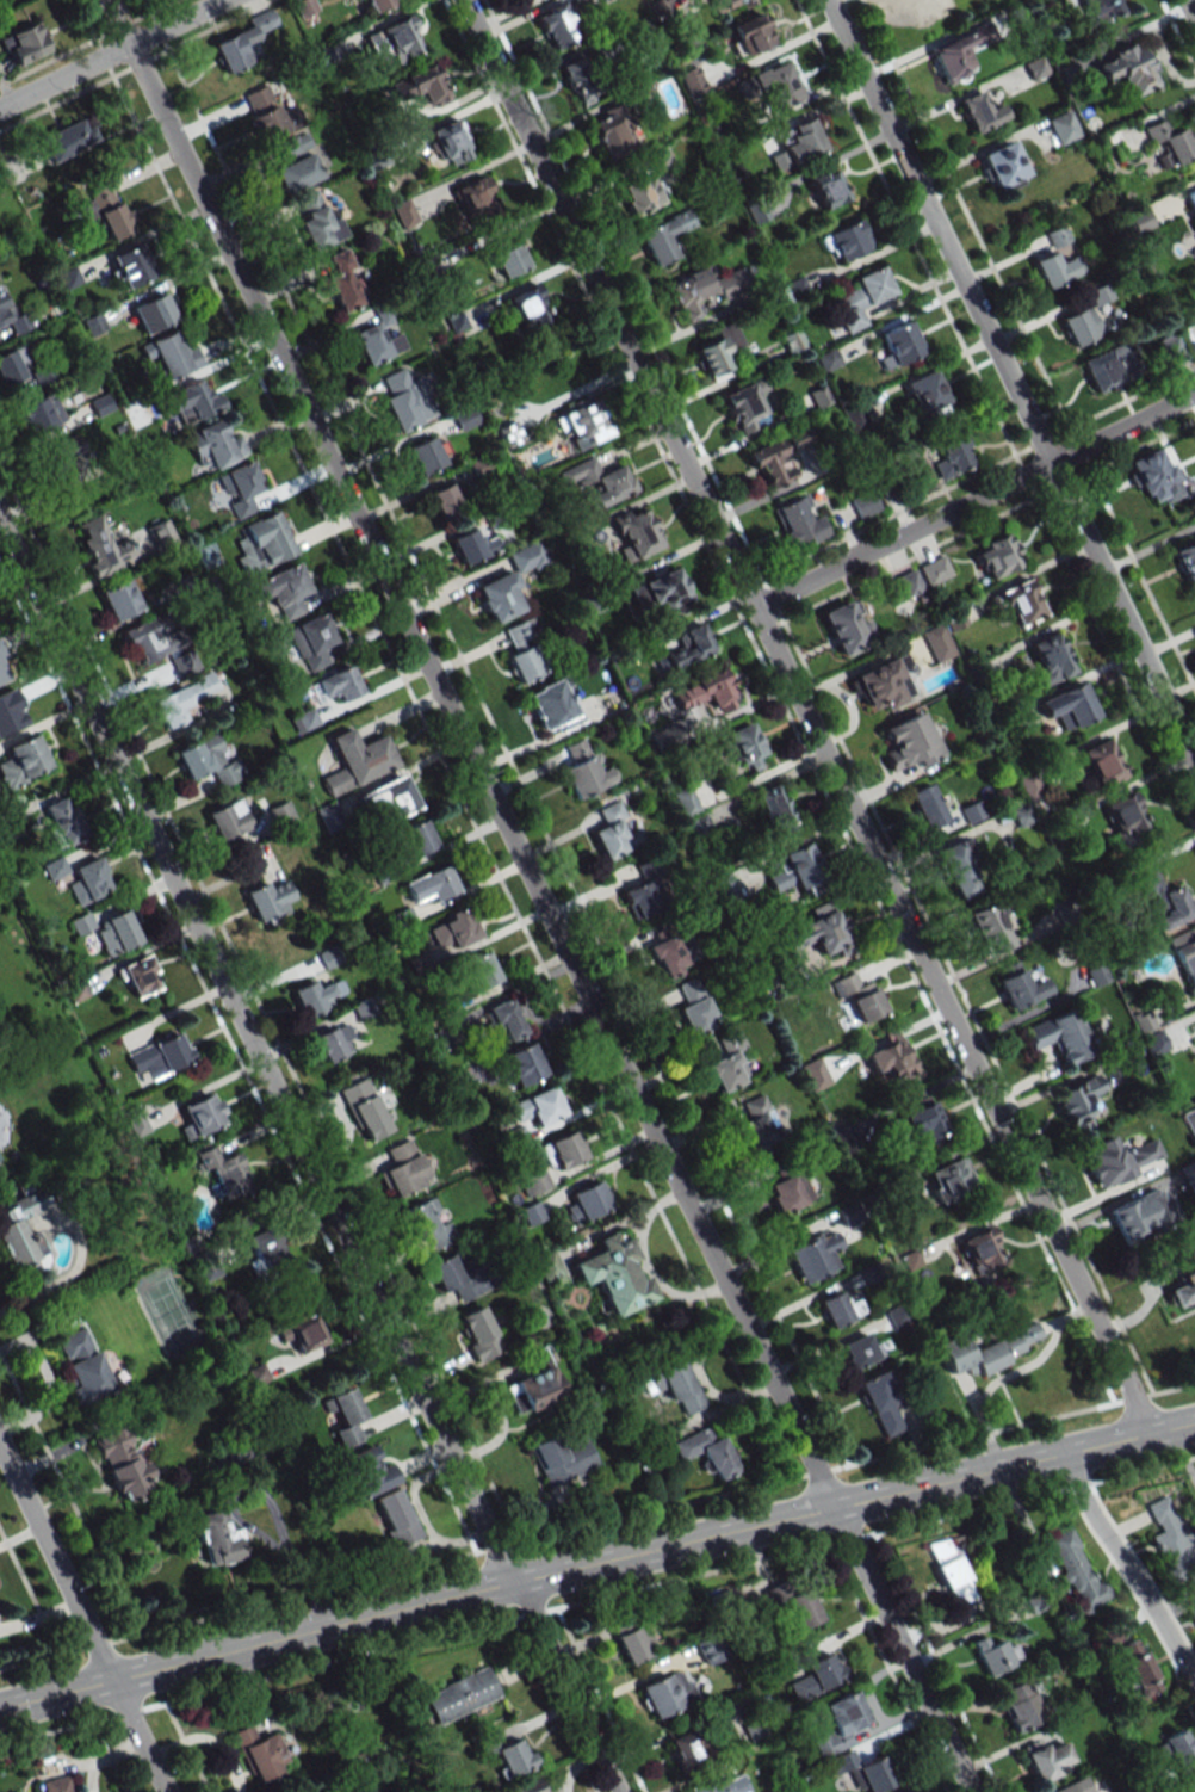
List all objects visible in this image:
building: (377, 4)
building: (725, 4)
building: (304, 6)
building: (1103, 8)
building: (924, 10)
road: (1188, 13)
road: (519, 18)
building: (556, 26)
building: (749, 35)
building: (242, 41)
building: (394, 41)
building: (25, 43)
road: (113, 55)
building: (956, 55)
building: (1035, 67)
building: (1127, 68)
building: (581, 81)
building: (420, 86)
building: (775, 86)
building: (979, 112)
building: (267, 113)
building: (1063, 126)
building: (611, 132)
building: (68, 138)
building: (450, 142)
building: (1169, 143)
building: (798, 144)
building: (291, 146)
building: (1002, 167)
building: (296, 173)
building: (826, 187)
building: (640, 194)
building: (475, 197)
building: (1190, 202)
building: (106, 210)
building: (756, 212)
building: (403, 214)
building: (316, 220)
building: (1140, 220)
building: (1057, 235)
building: (663, 237)
building: (847, 240)
building: (507, 257)
building: (130, 265)
building: (1054, 268)
building: (343, 282)
building: (794, 288)
building: (702, 290)
building: (861, 298)
building: (528, 307)
building: (153, 313)
building: (456, 321)
building: (11, 322)
building: (1081, 326)
building: (374, 339)
building: (898, 345)
building: (718, 350)
building: (171, 356)
building: (11, 366)
building: (1106, 367)
road: (1010, 382)
building: (925, 395)
building: (819, 396)
building: (403, 400)
building: (188, 402)
building: (100, 404)
building: (744, 406)
building: (39, 414)
building: (465, 418)
building: (582, 425)
building: (213, 446)
building: (428, 455)
building: (67, 457)
building: (952, 457)
building: (769, 463)
building: (1153, 476)
building: (599, 481)
building: (239, 488)
road: (973, 500)
building: (446, 501)
building: (863, 503)
building: (797, 520)
building: (633, 532)
building: (161, 533)
building: (267, 538)
building: (473, 545)
building: (105, 554)
building: (996, 556)
building: (526, 557)
building: (1185, 561)
building: (934, 570)
building: (284, 589)
building: (662, 592)
building: (499, 597)
building: (120, 598)
building: (1021, 603)
building: (846, 625)
building: (144, 634)
building: (311, 641)
building: (935, 643)
building: (689, 647)
building: (525, 653)
building: (1, 656)
building: (1048, 659)
building: (1, 676)
building: (881, 684)
building: (707, 692)
building: (182, 699)
building: (552, 706)
building: (1069, 706)
road: (804, 713)
building: (304, 721)
building: (909, 742)
building: (744, 746)
road: (468, 752)
building: (209, 760)
building: (24, 761)
building: (357, 761)
building: (1101, 762)
building: (583, 771)
building: (390, 797)
building: (685, 801)
building: (927, 807)
building: (774, 810)
building: (281, 814)
building: (328, 816)
building: (1123, 817)
building: (228, 820)
building: (62, 821)
building: (614, 832)
building: (416, 839)
building: (54, 869)
building: (791, 869)
building: (958, 870)
building: (88, 880)
building: (429, 885)
building: (724, 889)
building: (642, 898)
building: (268, 900)
building: (1163, 901)
building: (987, 928)
building: (453, 929)
building: (110, 931)
building: (821, 931)
building: (667, 956)
building: (1185, 956)
building: (328, 957)
building: (481, 970)
building: (140, 976)
building: (1017, 985)
building: (317, 996)
building: (859, 996)
building: (364, 1007)
building: (694, 1008)
building: (503, 1019)
building: (1060, 1036)
building: (334, 1042)
building: (1154, 1043)
road: (255, 1051)
building: (159, 1057)
building: (888, 1057)
building: (727, 1063)
building: (522, 1064)
building: (815, 1074)
building: (1077, 1102)
building: (538, 1106)
building: (364, 1110)
building: (200, 1116)
building: (1189, 1120)
building: (134, 1121)
building: (923, 1121)
building: (757, 1127)
building: (563, 1150)
building: (0, 1157)
building: (1119, 1158)
building: (402, 1169)
building: (223, 1170)
building: (949, 1178)
building: (534, 1184)
building: (788, 1192)
building: (587, 1201)
building: (531, 1213)
building: (1141, 1213)
building: (428, 1224)
building: (21, 1235)
building: (266, 1247)
building: (982, 1250)
building: (813, 1255)
building: (546, 1266)
building: (614, 1274)
road: (66, 1277)
building: (454, 1279)
building: (1182, 1290)
building: (838, 1309)
building: (897, 1315)
building: (301, 1331)
building: (478, 1333)
building: (860, 1349)
building: (989, 1349)
building: (82, 1365)
road: (1009, 1373)
building: (533, 1383)
building: (677, 1386)
building: (880, 1404)
building: (345, 1415)
building: (708, 1452)
building: (562, 1459)
building: (122, 1463)
building: (364, 1473)
building: (396, 1518)
road: (241, 1524)
building: (1169, 1537)
building: (217, 1539)
road: (652, 1545)
road: (1127, 1565)
building: (953, 1570)
building: (1077, 1571)
road: (596, 1599)
building: (1189, 1599)
building: (792, 1601)
road: (83, 1619)
building: (632, 1638)
road: (903, 1646)
building: (711, 1649)
building: (996, 1655)
building: (1137, 1668)
building: (816, 1673)
road: (565, 1685)
road: (56, 1691)
building: (668, 1692)
building: (460, 1694)
building: (1020, 1705)
building: (838, 1723)
building: (689, 1748)
building: (260, 1754)
building: (513, 1757)
building: (1047, 1760)
building: (1178, 1761)
building: (863, 1771)
building: (60, 1784)
building: (718, 1785)
building: (1075, 1786)
building: (527, 1787)
building: (355, 1791)

